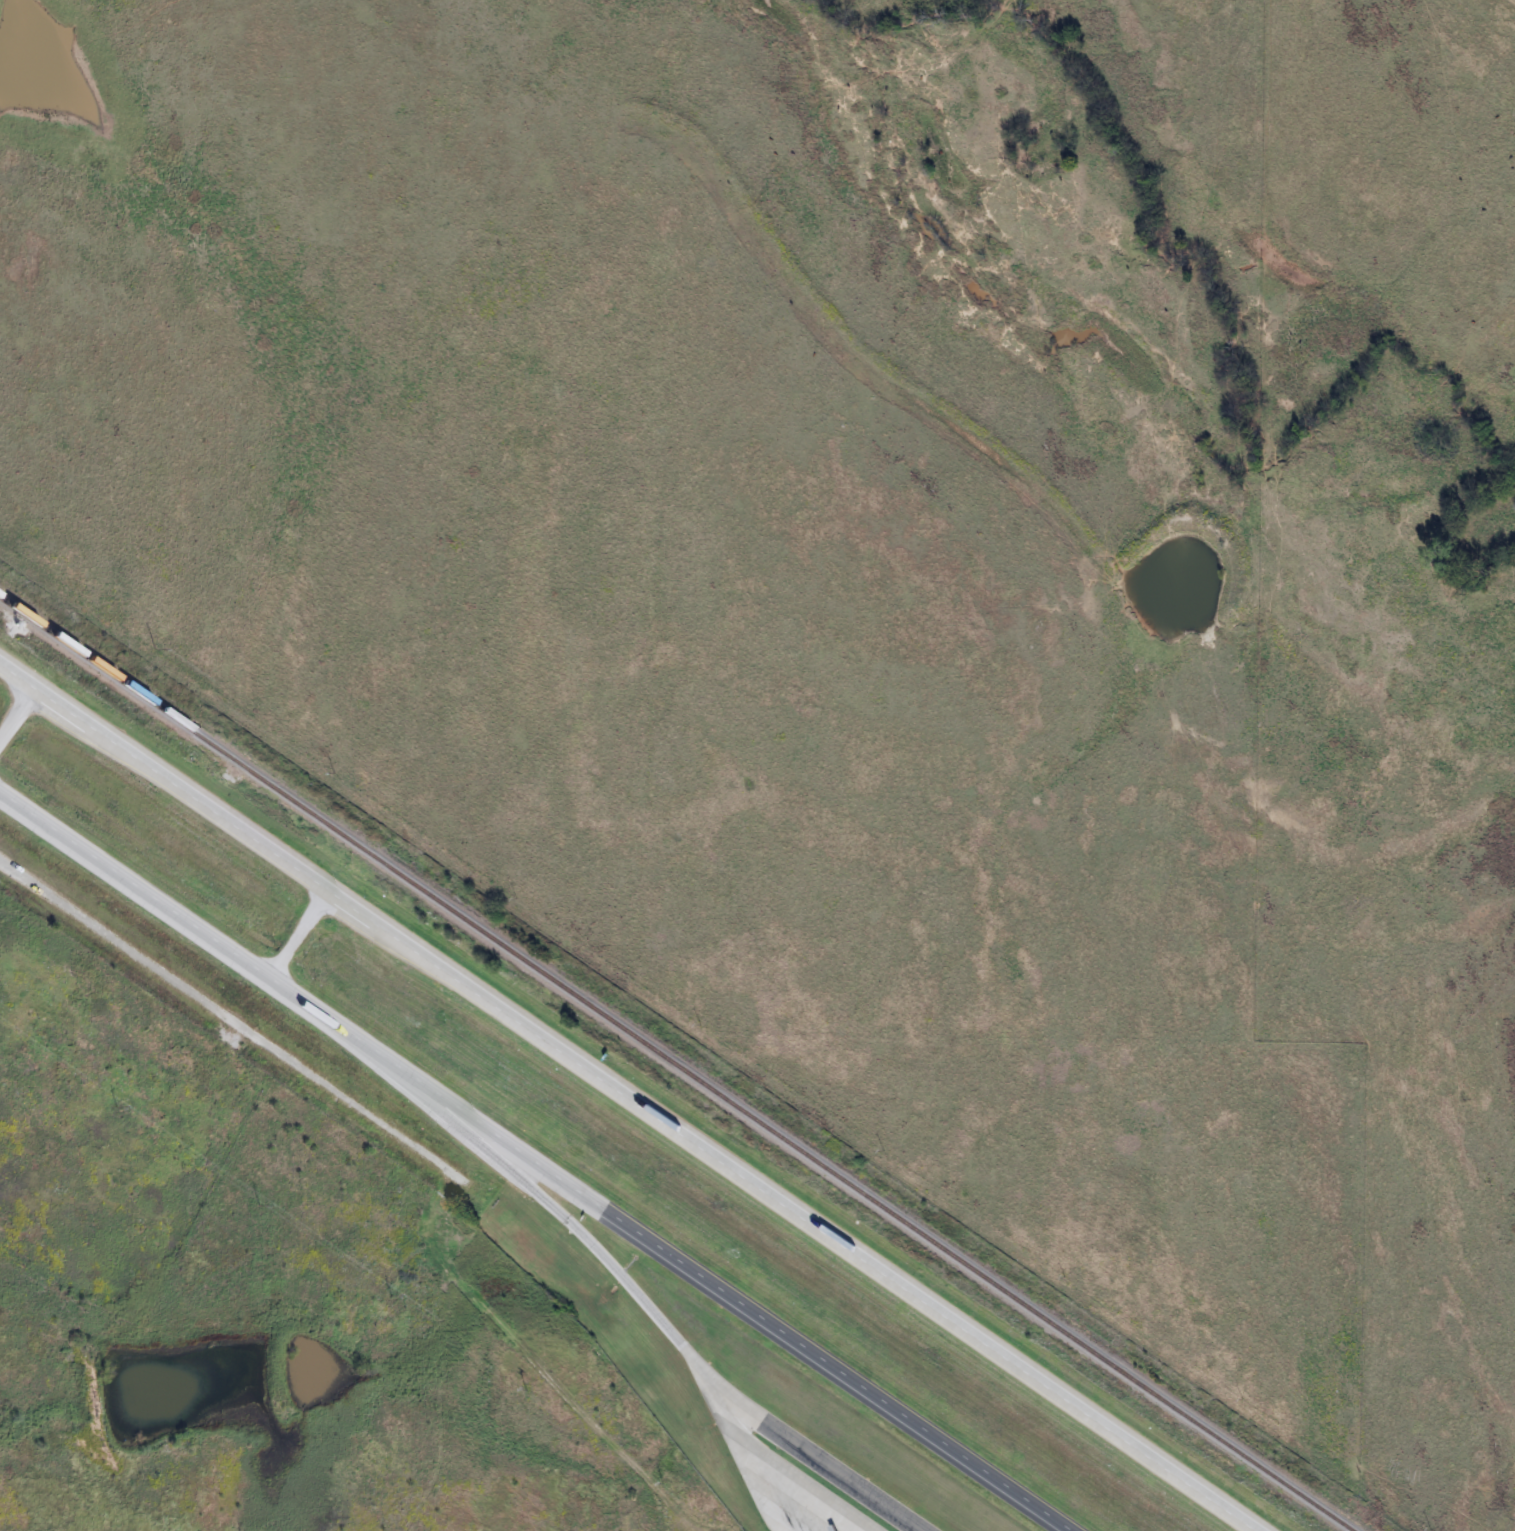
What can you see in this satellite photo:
road: (20, 668)
road: (20, 713)
road: (298, 931)
road: (225, 1017)
railway: (675, 1064)
road: (653, 1106)
road: (539, 1161)
road: (552, 1208)
road: (739, 1456)
road: (813, 1456)
parking lot: (830, 1479)
road: (800, 1481)
parking lot: (799, 1506)

